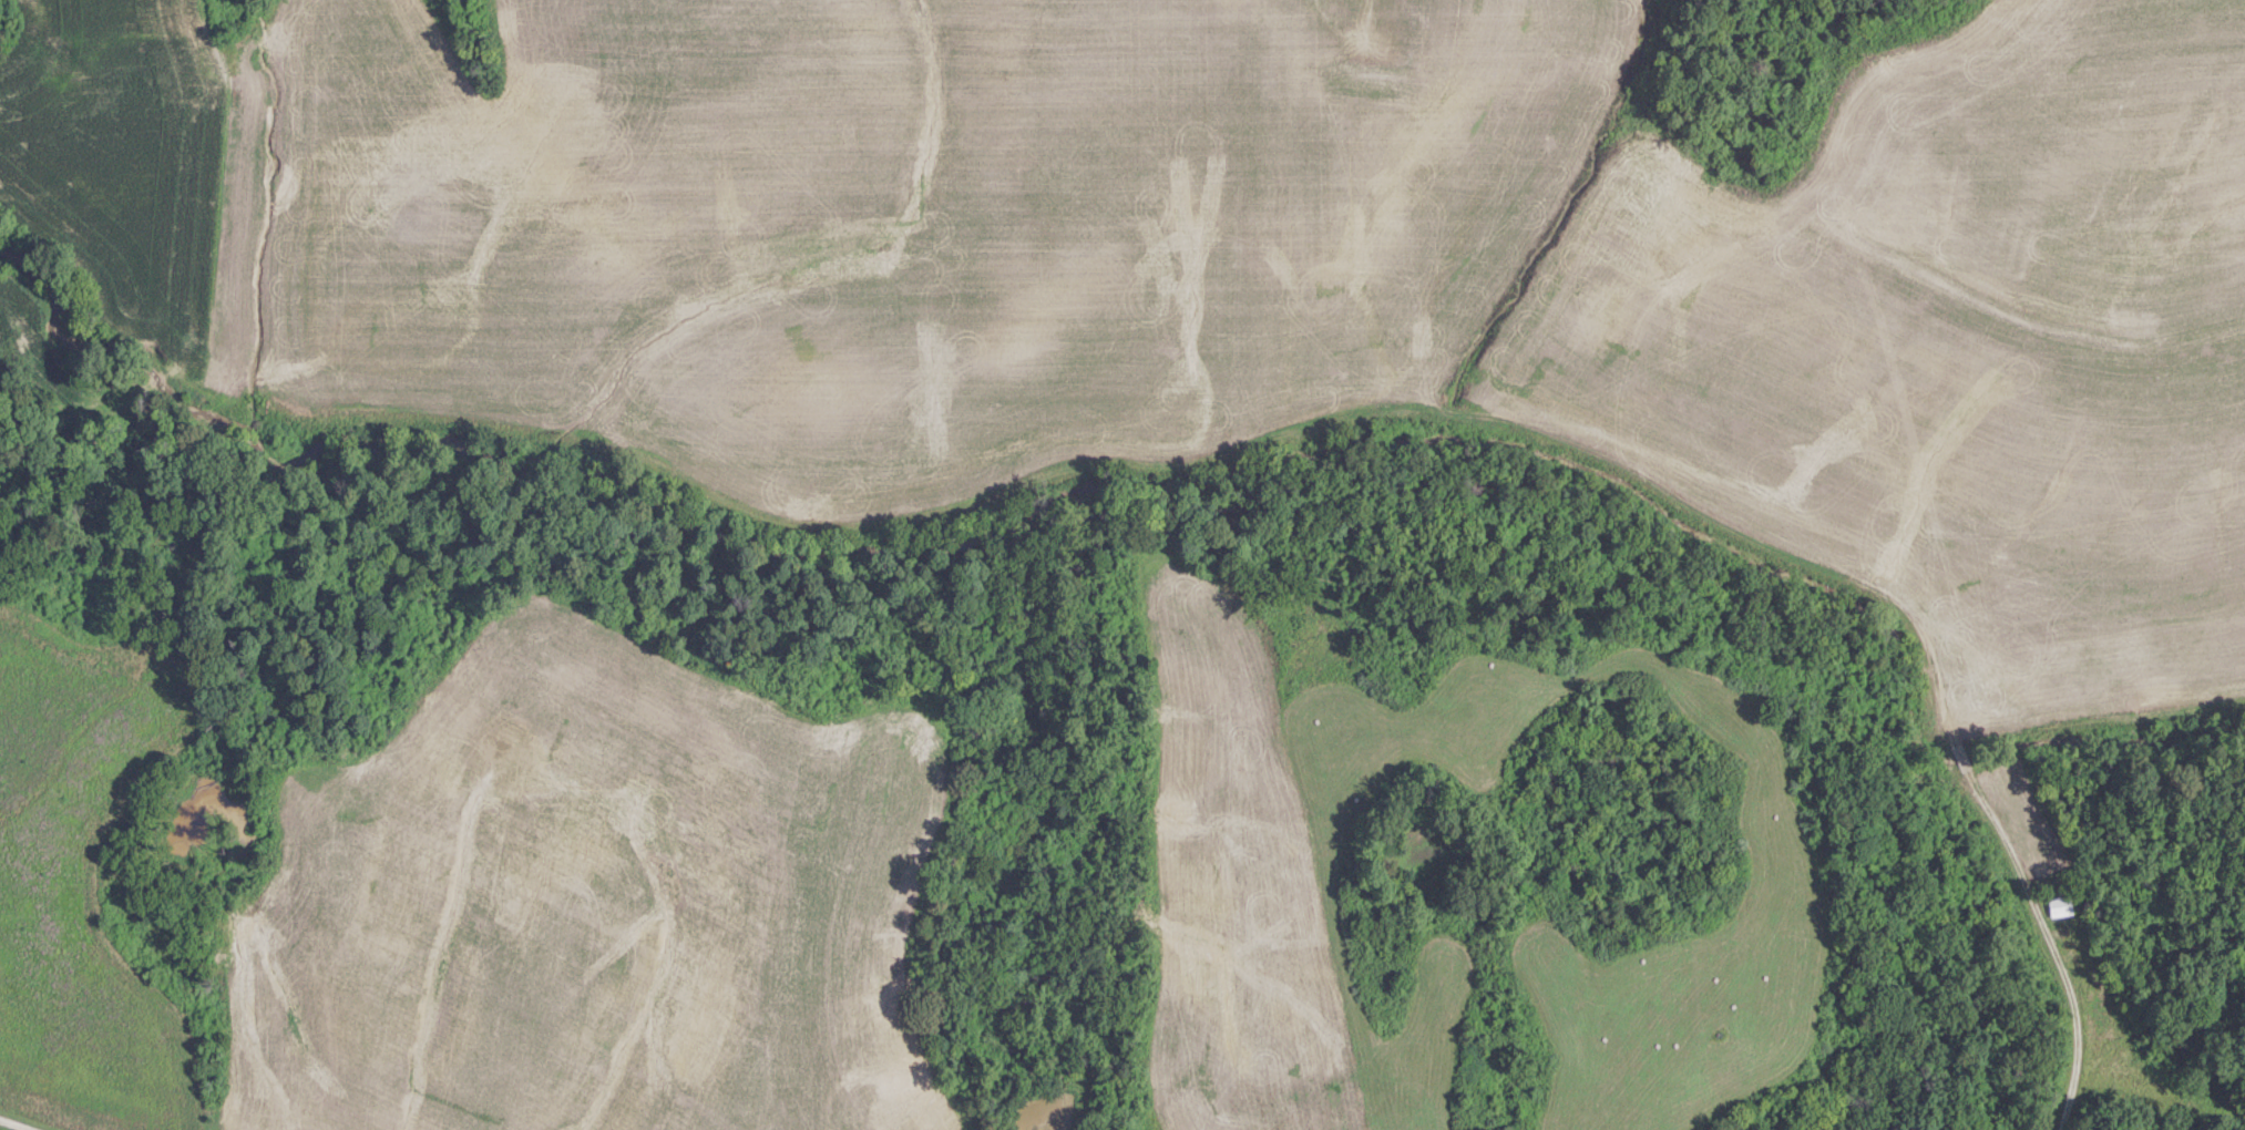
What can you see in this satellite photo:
crop: (82, 888)
building: (2059, 905)
road: (2071, 1017)
road: (17, 1124)

